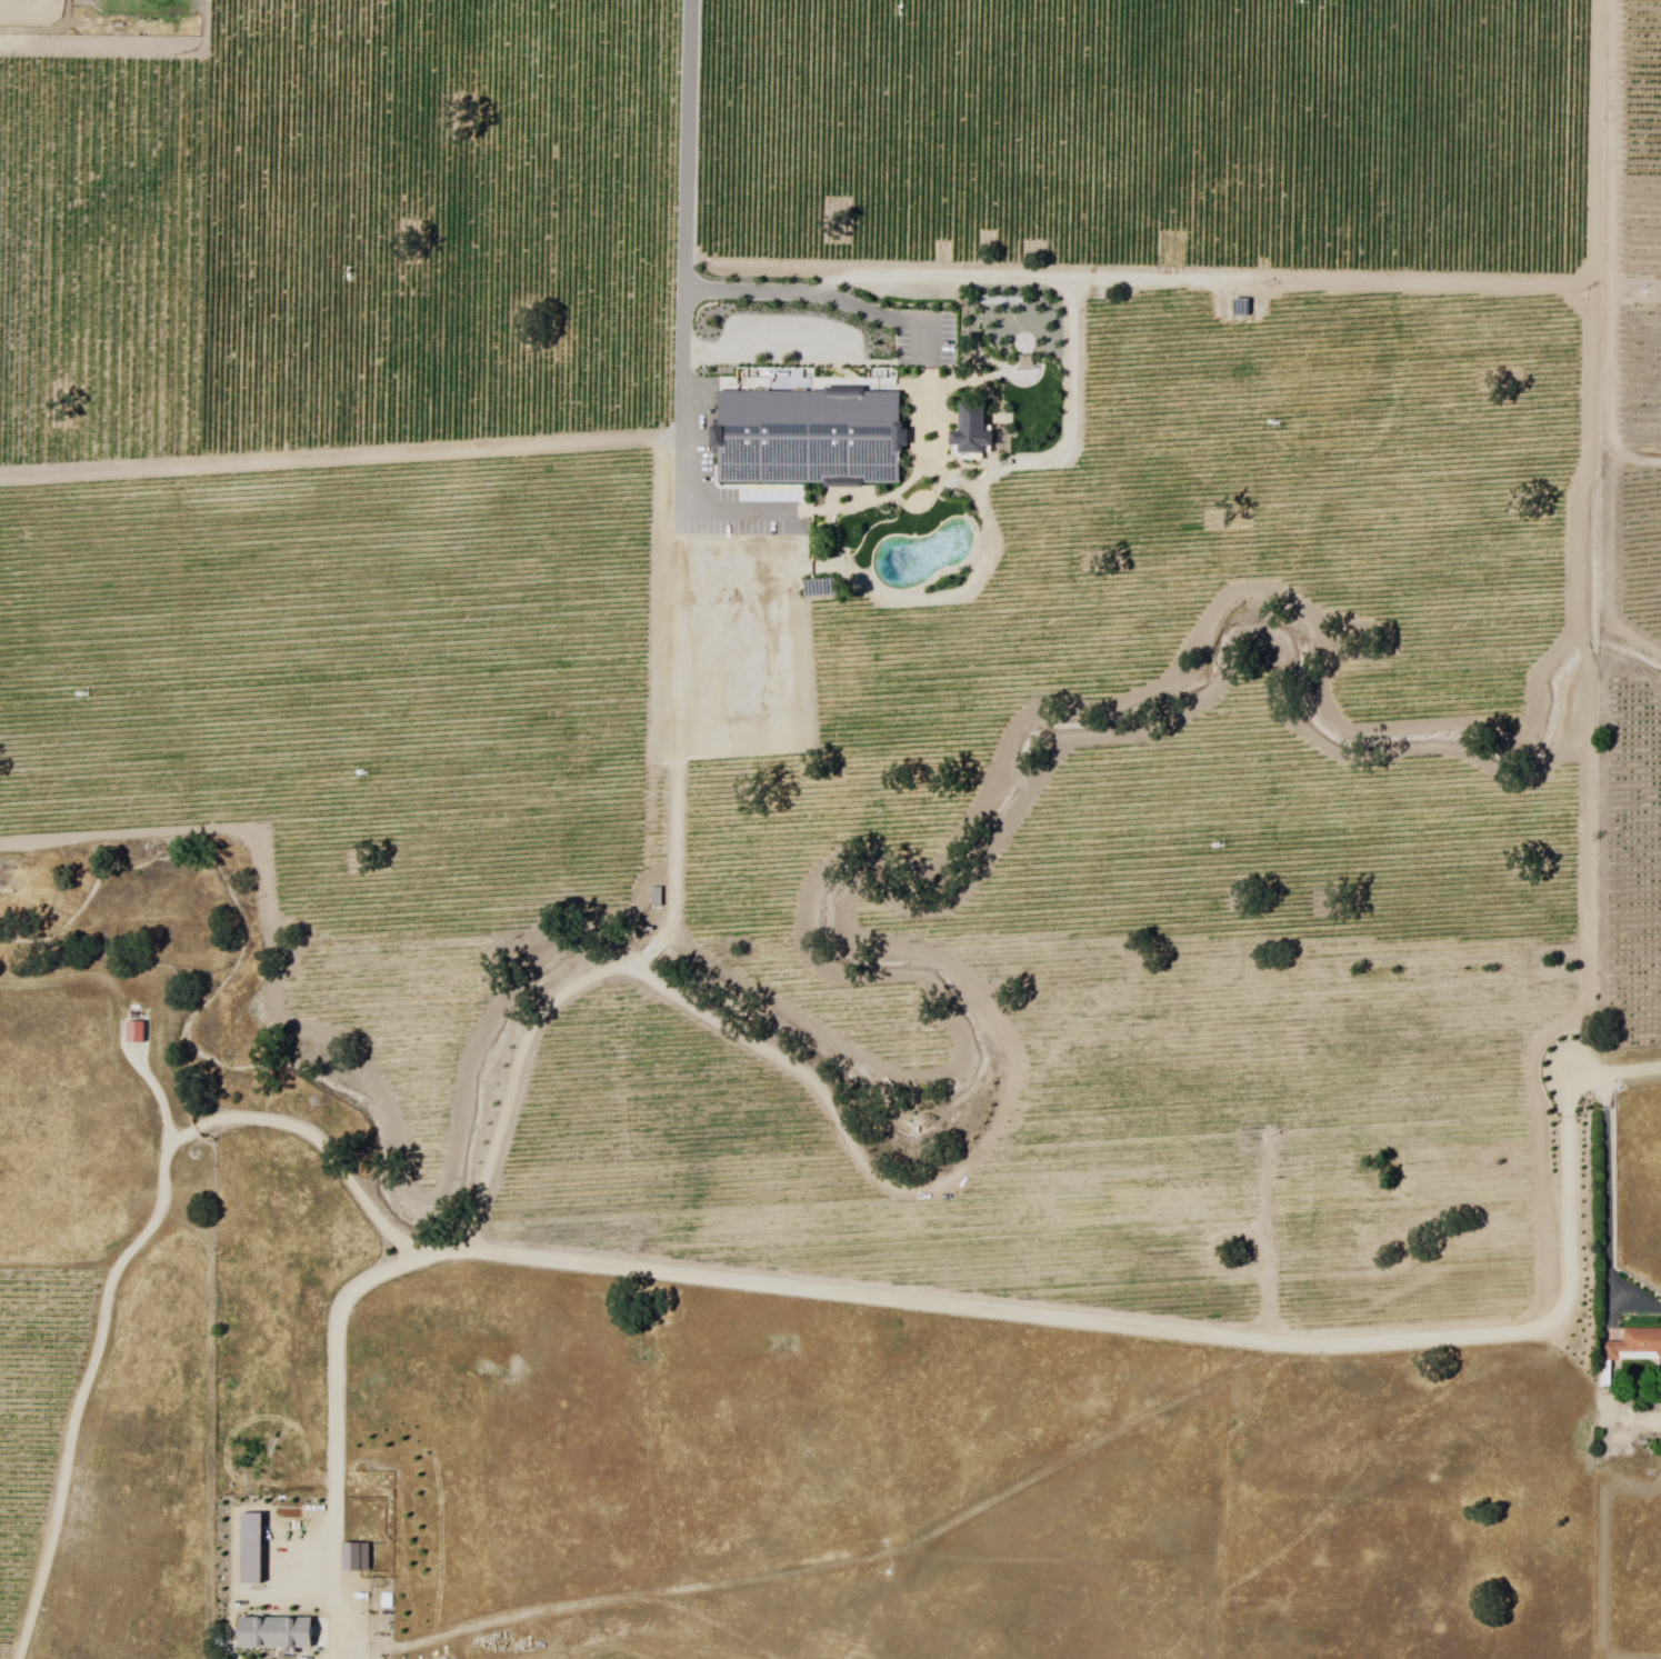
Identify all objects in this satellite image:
building: (19, 0)
building: (1042, 234)
building: (1372, 253)
building: (1193, 301)
road: (676, 340)
building: (1118, 368)
building: (975, 430)
building: (810, 438)
road: (1624, 446)
road: (1589, 469)
building: (1004, 496)
building: (851, 540)
building: (798, 621)
road: (576, 990)
road: (1574, 1046)
road: (1610, 1196)
building: (1464, 1200)
building: (1160, 1205)
building: (1372, 1235)
road: (1337, 1276)
building: (1637, 1347)
road: (1041, 1470)
building: (359, 1557)
building: (278, 1636)

